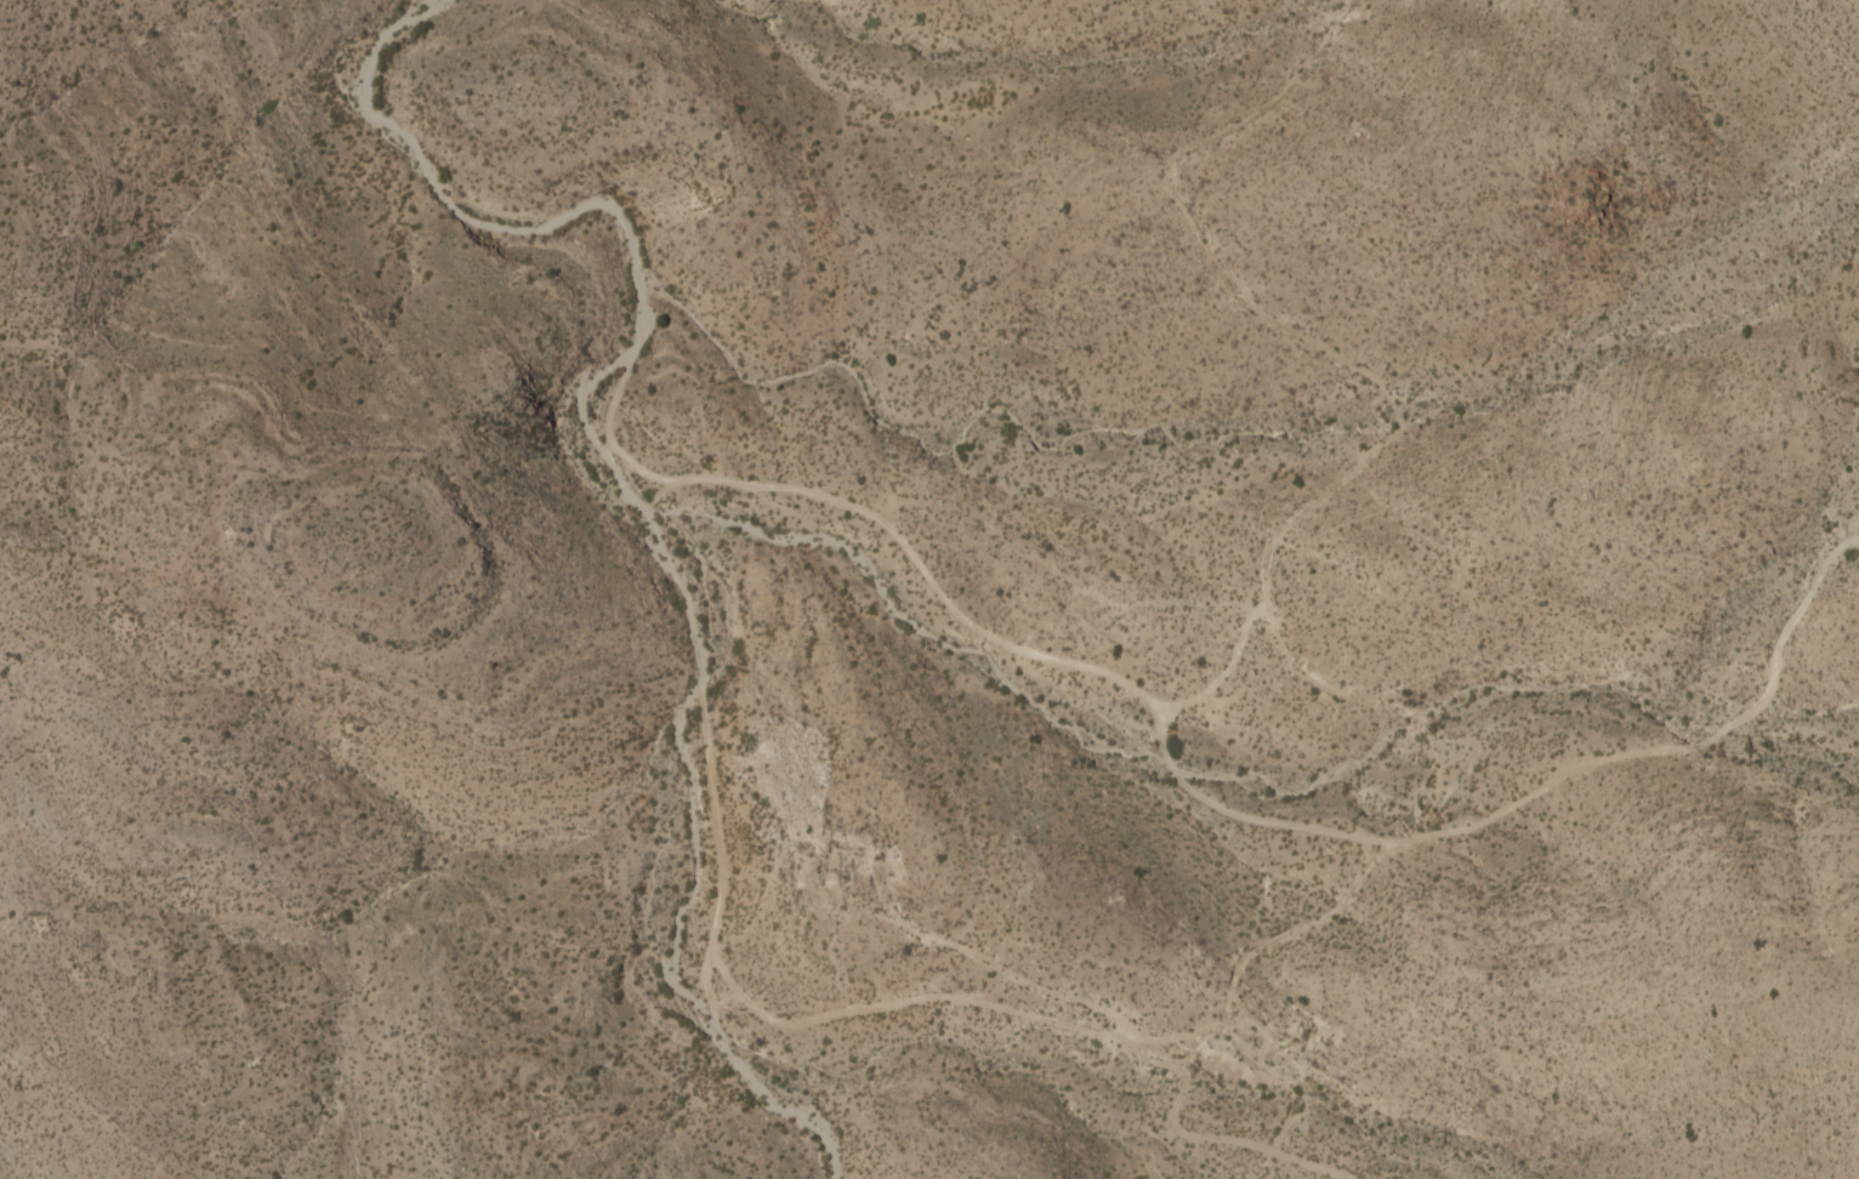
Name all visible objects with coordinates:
road: (635, 495)

